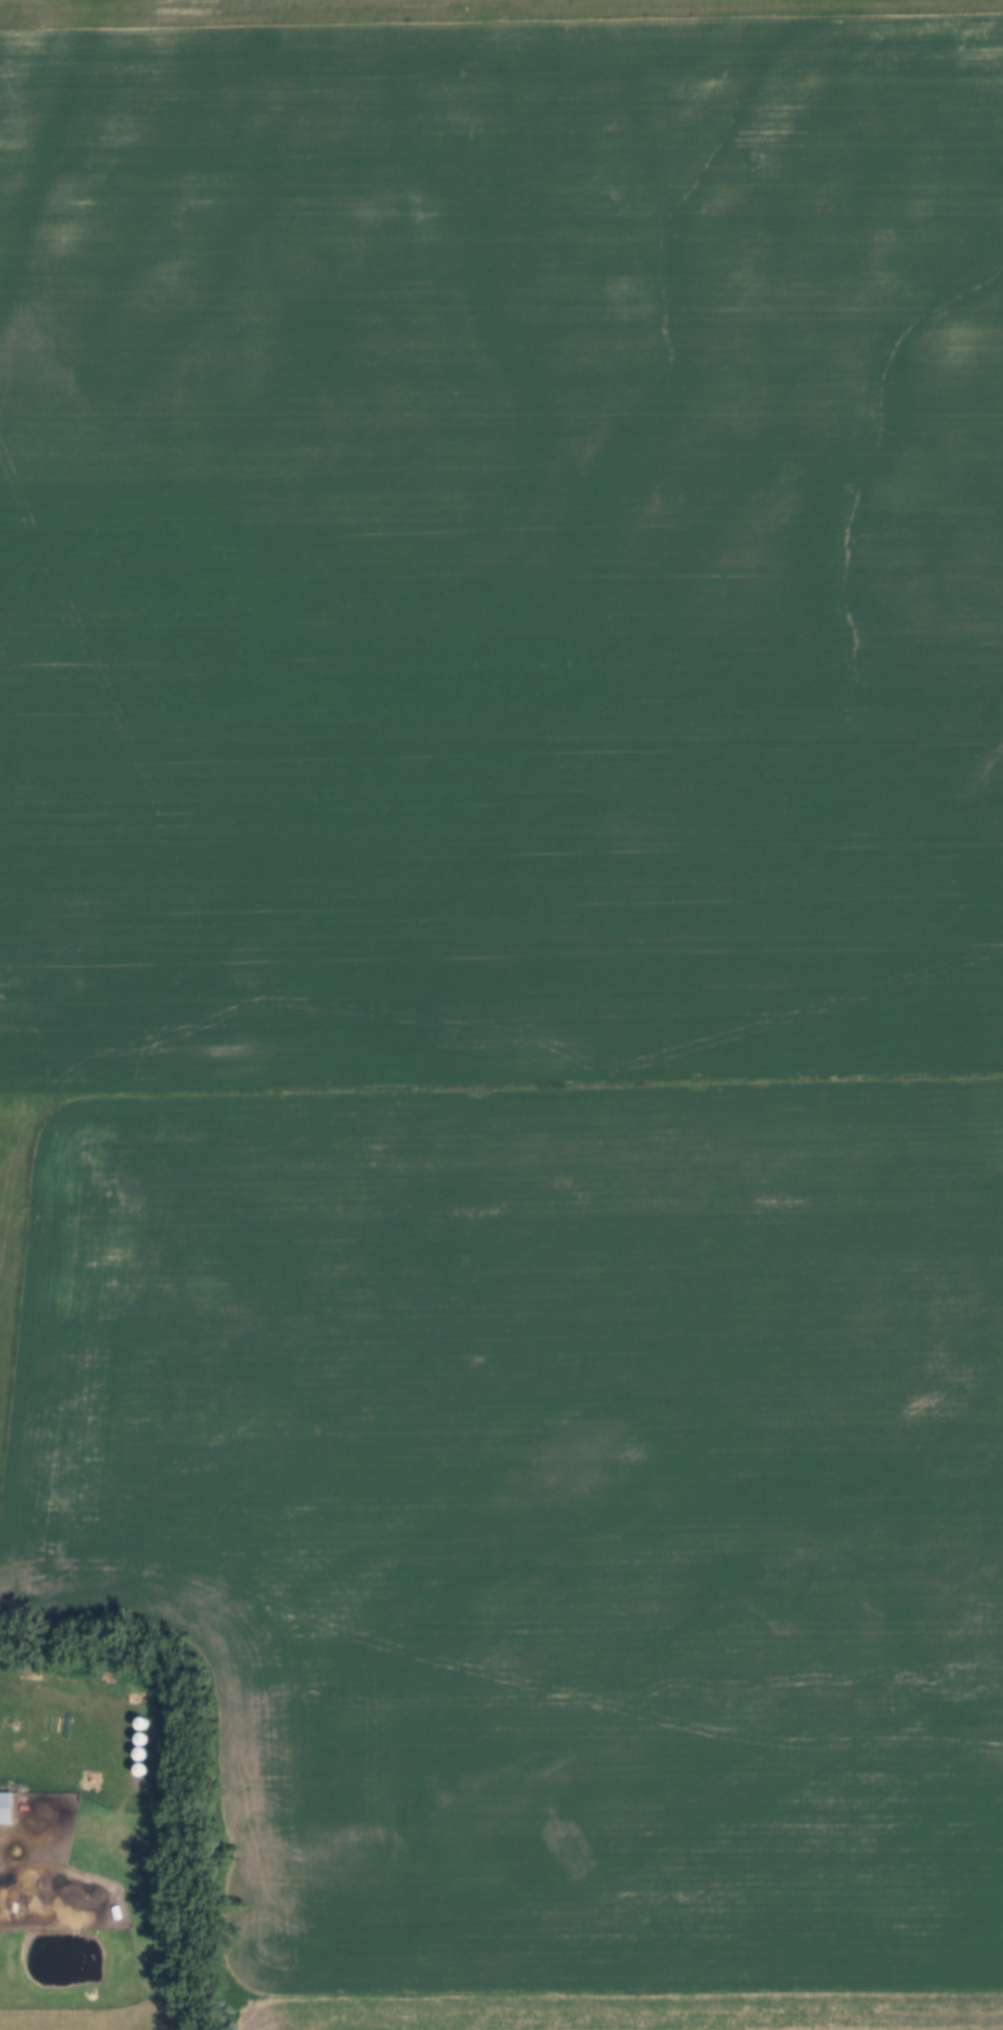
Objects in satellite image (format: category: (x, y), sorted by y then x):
building: (6, 1810)
road: (631, 1991)

